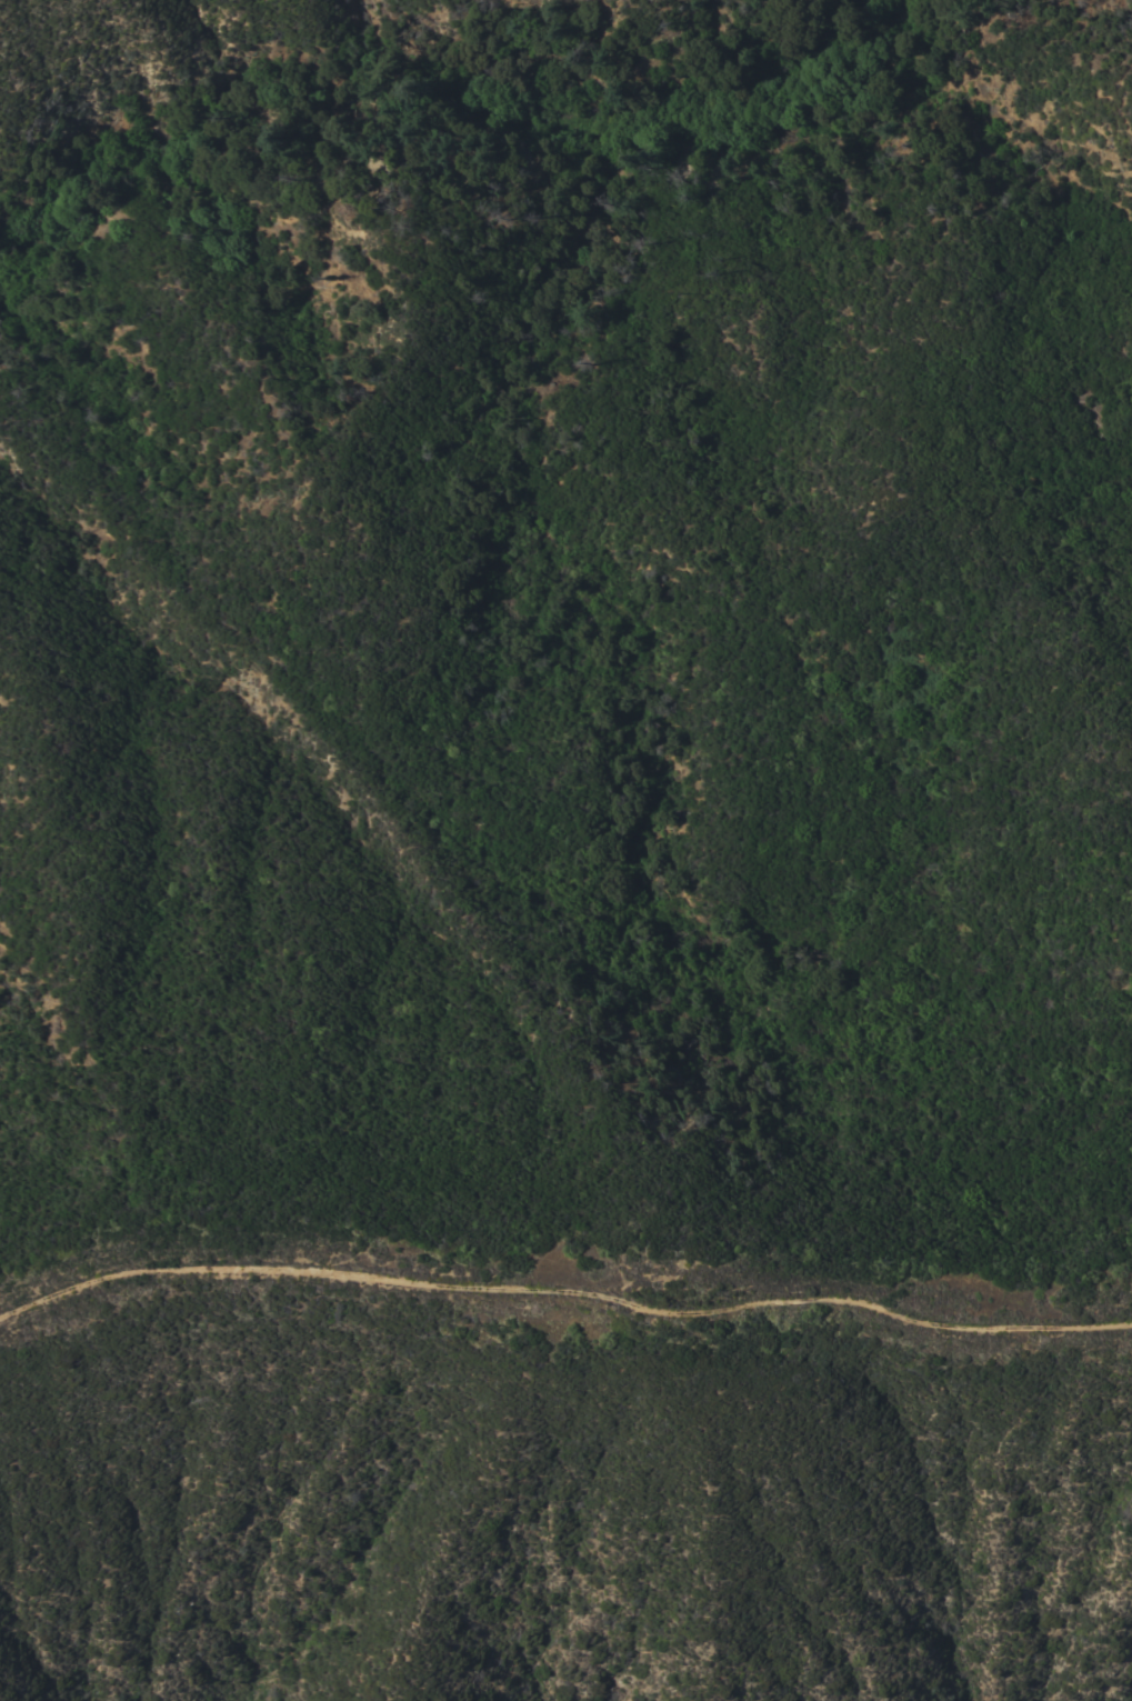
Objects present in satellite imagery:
road: (565, 1299)

